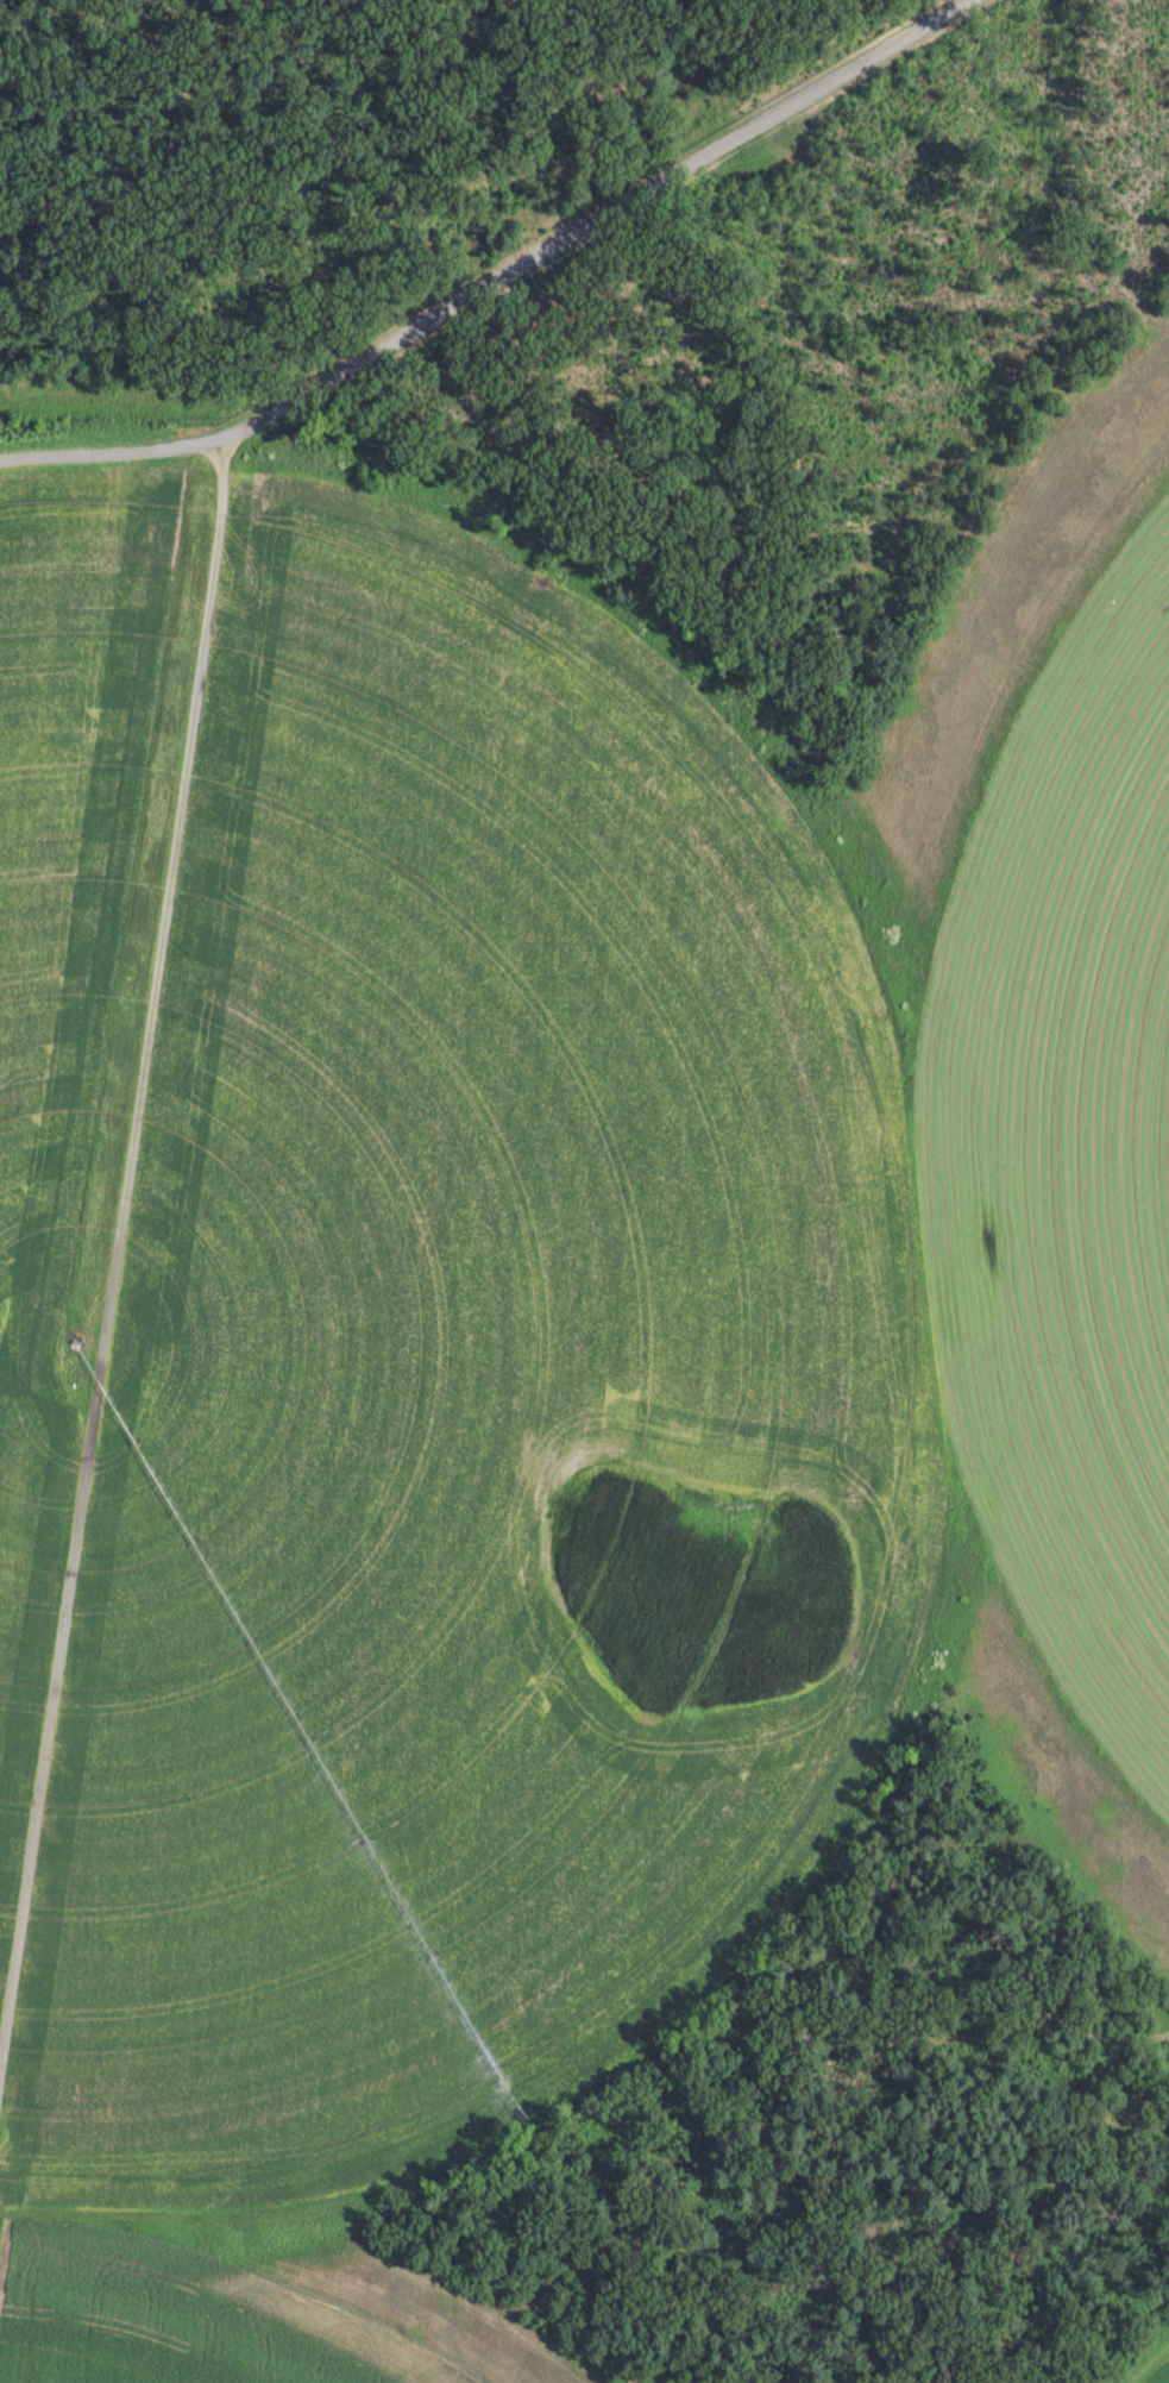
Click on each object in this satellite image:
road: (193, 228)
road: (491, 280)
wastewater plant: (609, 1294)

